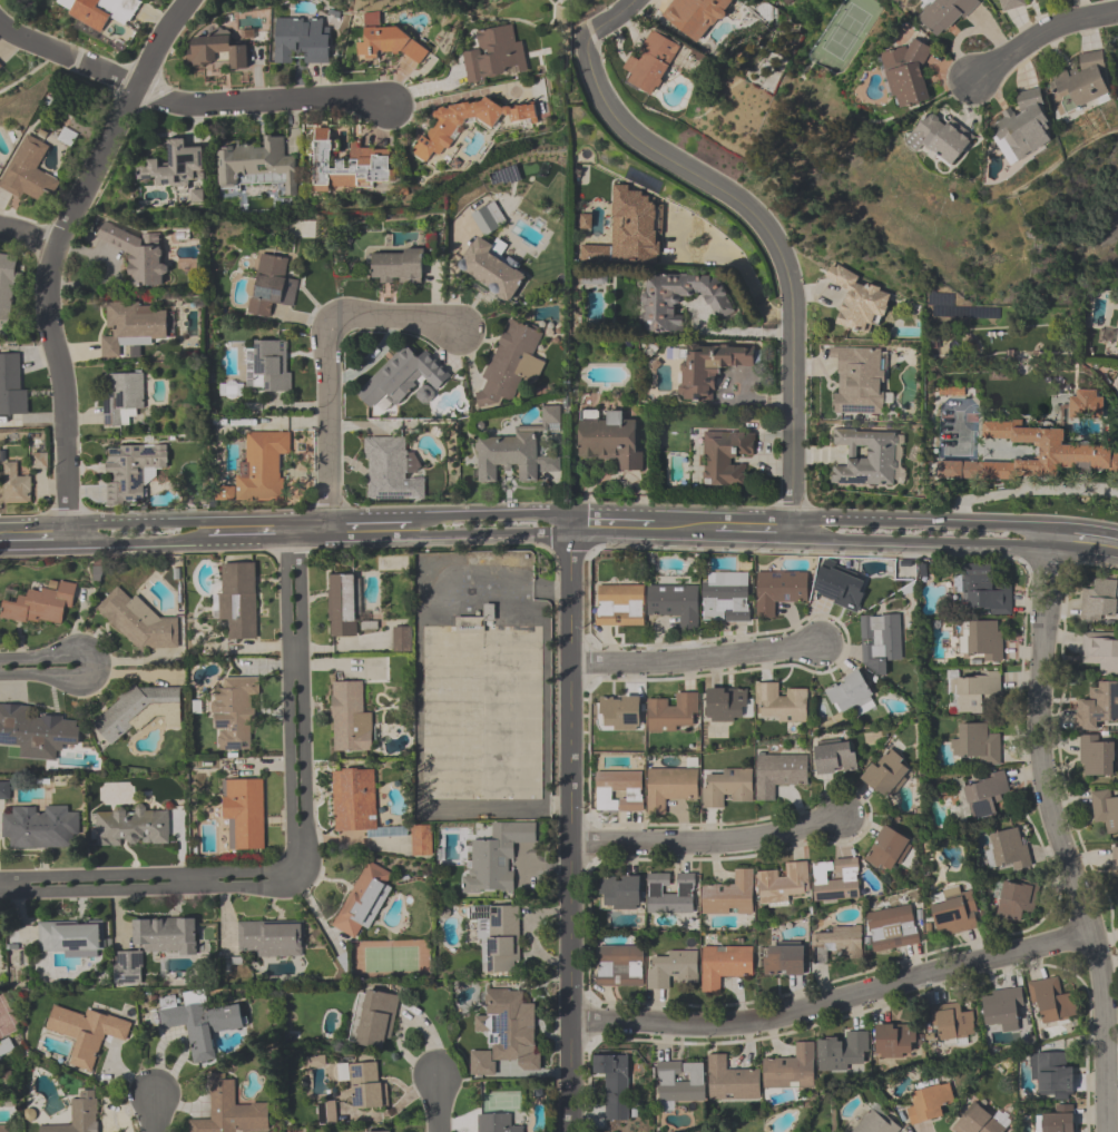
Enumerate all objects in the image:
building: (1011, 4)
building: (100, 10)
building: (945, 16)
building: (696, 17)
road: (606, 19)
road: (1039, 35)
building: (388, 41)
building: (301, 42)
building: (215, 51)
building: (494, 55)
building: (651, 63)
building: (0, 65)
building: (908, 77)
building: (1081, 85)
road: (184, 102)
building: (458, 125)
building: (1023, 128)
building: (942, 140)
building: (259, 166)
building: (351, 166)
building: (178, 167)
building: (31, 174)
building: (630, 229)
road: (28, 240)
road: (774, 245)
road: (56, 256)
building: (136, 256)
building: (490, 257)
building: (396, 266)
road: (742, 268)
building: (271, 285)
building: (7, 291)
building: (678, 299)
building: (861, 303)
road: (391, 316)
building: (131, 328)
road: (738, 331)
building: (511, 364)
building: (268, 367)
building: (709, 368)
building: (402, 377)
building: (859, 383)
building: (11, 387)
building: (122, 398)
building: (1085, 405)
road: (371, 424)
road: (325, 430)
building: (610, 441)
building: (518, 452)
building: (1078, 453)
building: (865, 457)
building: (725, 459)
building: (258, 467)
building: (131, 472)
building: (392, 472)
building: (16, 486)
road: (1026, 491)
road: (285, 519)
road: (919, 523)
road: (611, 524)
road: (684, 528)
road: (753, 530)
road: (489, 533)
road: (367, 537)
road: (305, 538)
road: (241, 539)
road: (918, 541)
road: (131, 542)
road: (1081, 543)
road: (32, 544)
road: (1045, 549)
building: (840, 588)
road: (1033, 590)
building: (984, 591)
road: (1050, 591)
building: (779, 592)
building: (726, 597)
building: (238, 600)
building: (1100, 601)
building: (41, 604)
building: (342, 604)
building: (675, 604)
building: (619, 606)
building: (137, 621)
building: (400, 640)
building: (982, 640)
building: (880, 642)
building: (1101, 654)
road: (43, 656)
road: (696, 662)
road: (294, 666)
road: (46, 676)
road: (286, 686)
road: (302, 686)
building: (973, 689)
building: (851, 695)
building: (779, 703)
building: (728, 706)
building: (1096, 707)
building: (234, 710)
building: (619, 713)
building: (674, 713)
building: (350, 719)
building: (40, 731)
building: (977, 745)
building: (1096, 756)
building: (835, 760)
building: (886, 772)
building: (778, 775)
building: (725, 787)
building: (669, 788)
building: (4, 790)
building: (619, 791)
building: (985, 796)
building: (354, 800)
building: (1105, 809)
building: (245, 811)
building: (40, 827)
building: (130, 827)
road: (572, 827)
road: (712, 843)
building: (887, 850)
building: (1007, 852)
building: (496, 858)
building: (1115, 858)
road: (297, 862)
road: (140, 877)
road: (286, 877)
road: (1070, 878)
building: (810, 883)
road: (139, 890)
building: (620, 893)
building: (670, 894)
building: (729, 895)
building: (362, 898)
building: (1016, 900)
building: (954, 913)
building: (892, 929)
building: (271, 937)
building: (71, 938)
building: (499, 939)
building: (835, 946)
building: (154, 947)
building: (783, 959)
building: (724, 966)
building: (619, 967)
building: (673, 969)
building: (1052, 1001)
road: (836, 1006)
building: (1002, 1008)
building: (376, 1020)
building: (952, 1024)
building: (204, 1027)
building: (87, 1032)
building: (506, 1034)
building: (894, 1042)
building: (7, 1051)
building: (844, 1053)
building: (791, 1070)
building: (1055, 1076)
building: (732, 1081)
building: (364, 1083)
building: (680, 1083)
building: (614, 1086)
road: (435, 1104)
building: (929, 1104)
building: (231, 1111)
building: (327, 1113)
building: (80, 1114)
road: (151, 1115)
building: (980, 1121)
building: (1058, 1121)
building: (494, 1123)
building: (874, 1123)
building: (4, 1129)
building: (380, 1131)

